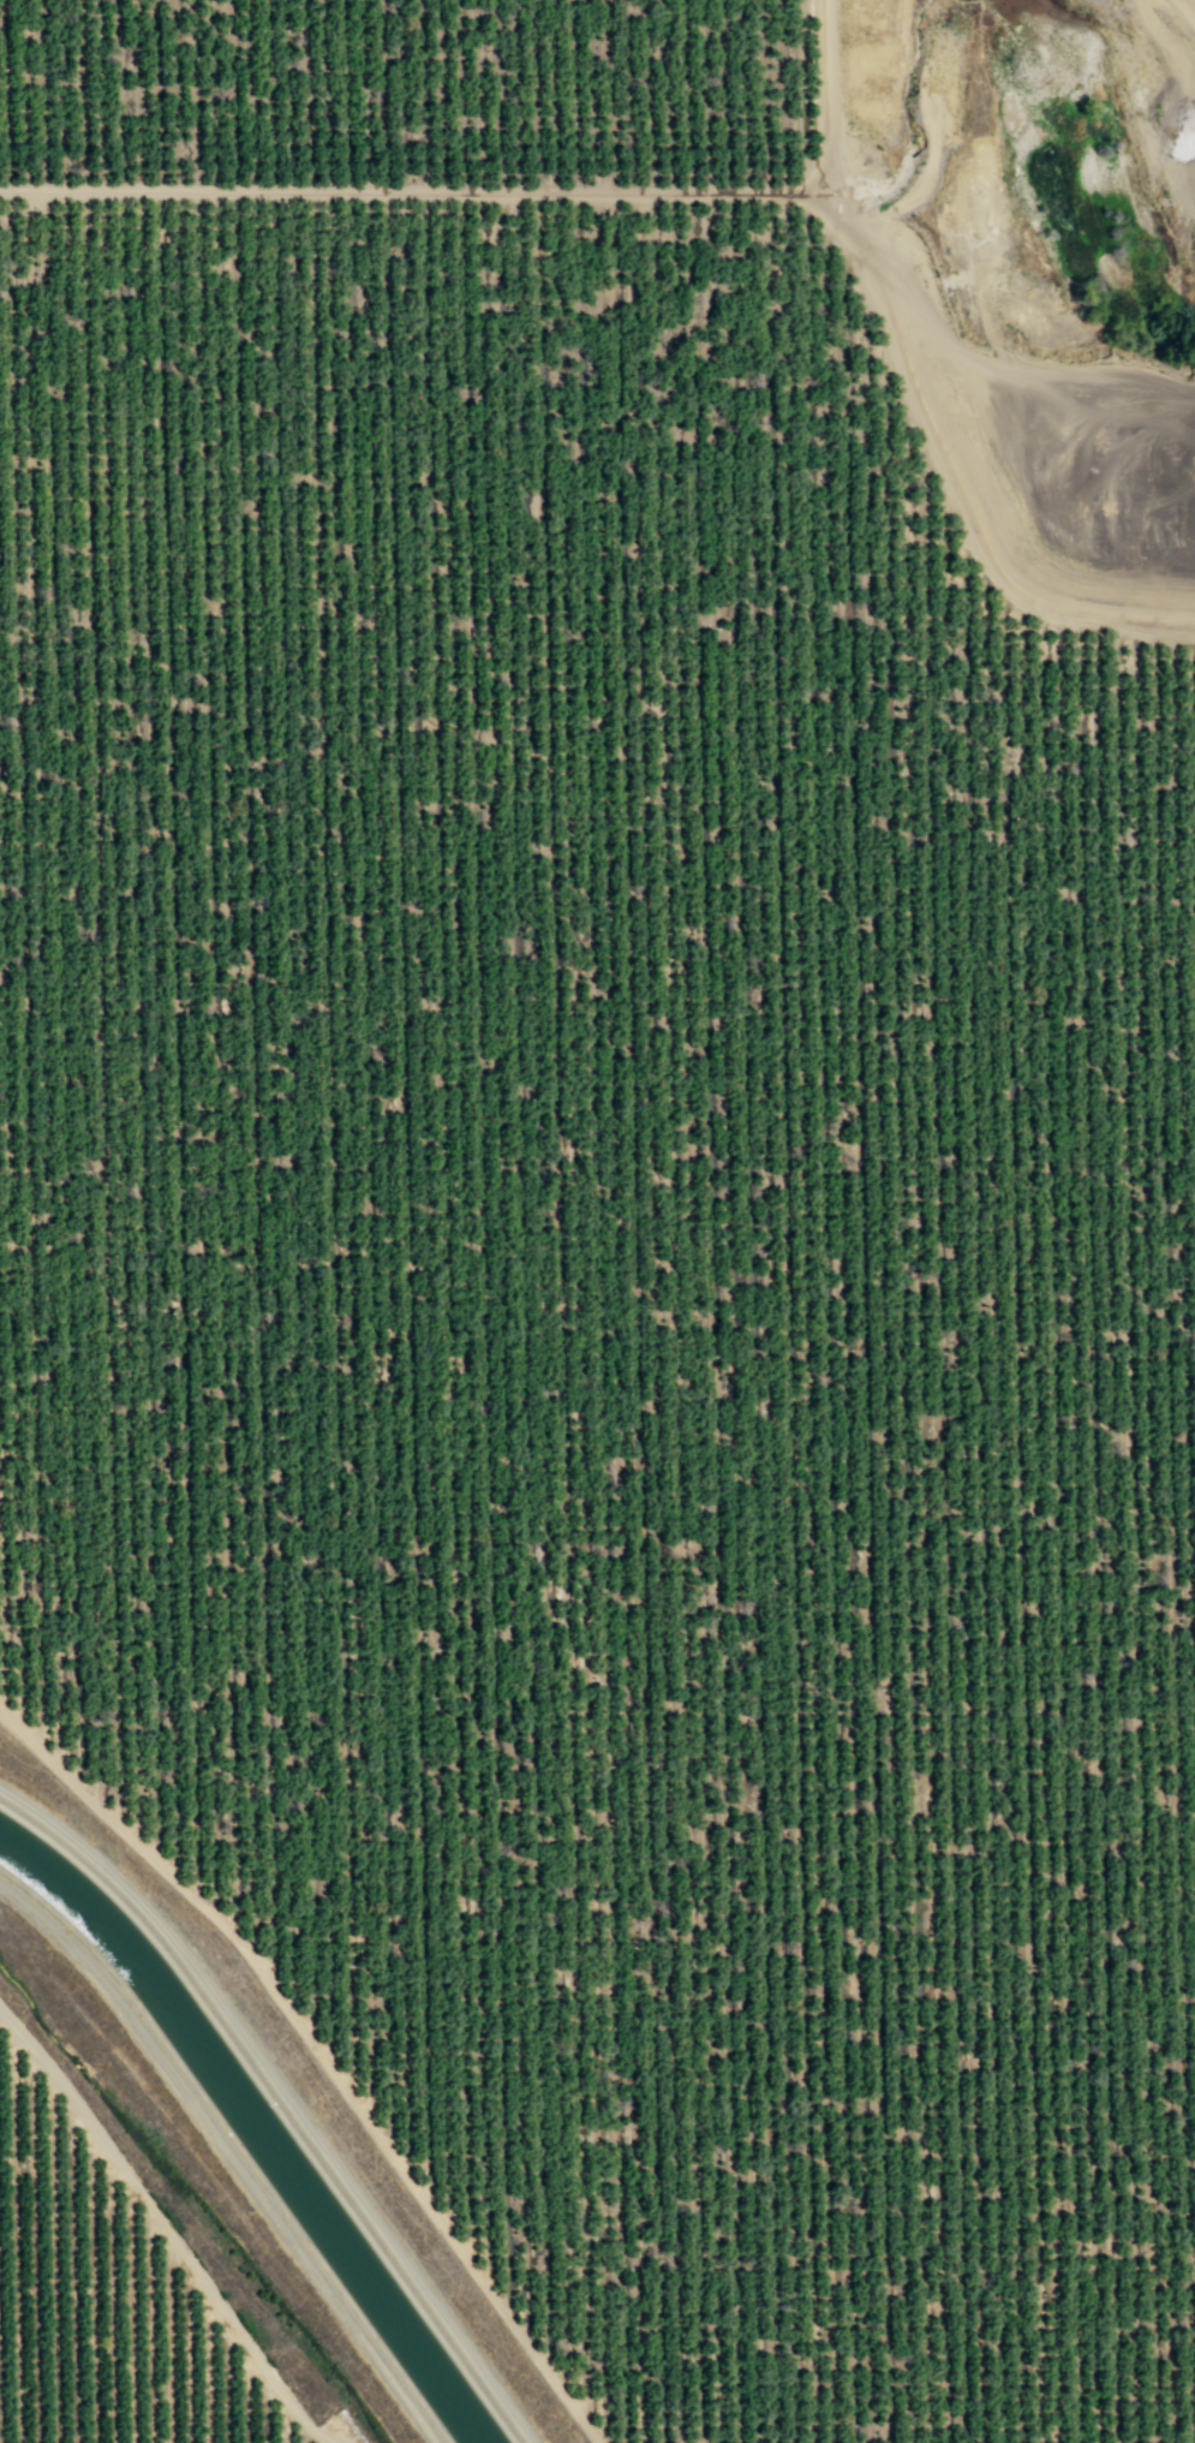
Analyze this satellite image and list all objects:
road: (407, 192)
quarry: (1032, 281)
road: (321, 2057)
road: (285, 2098)

